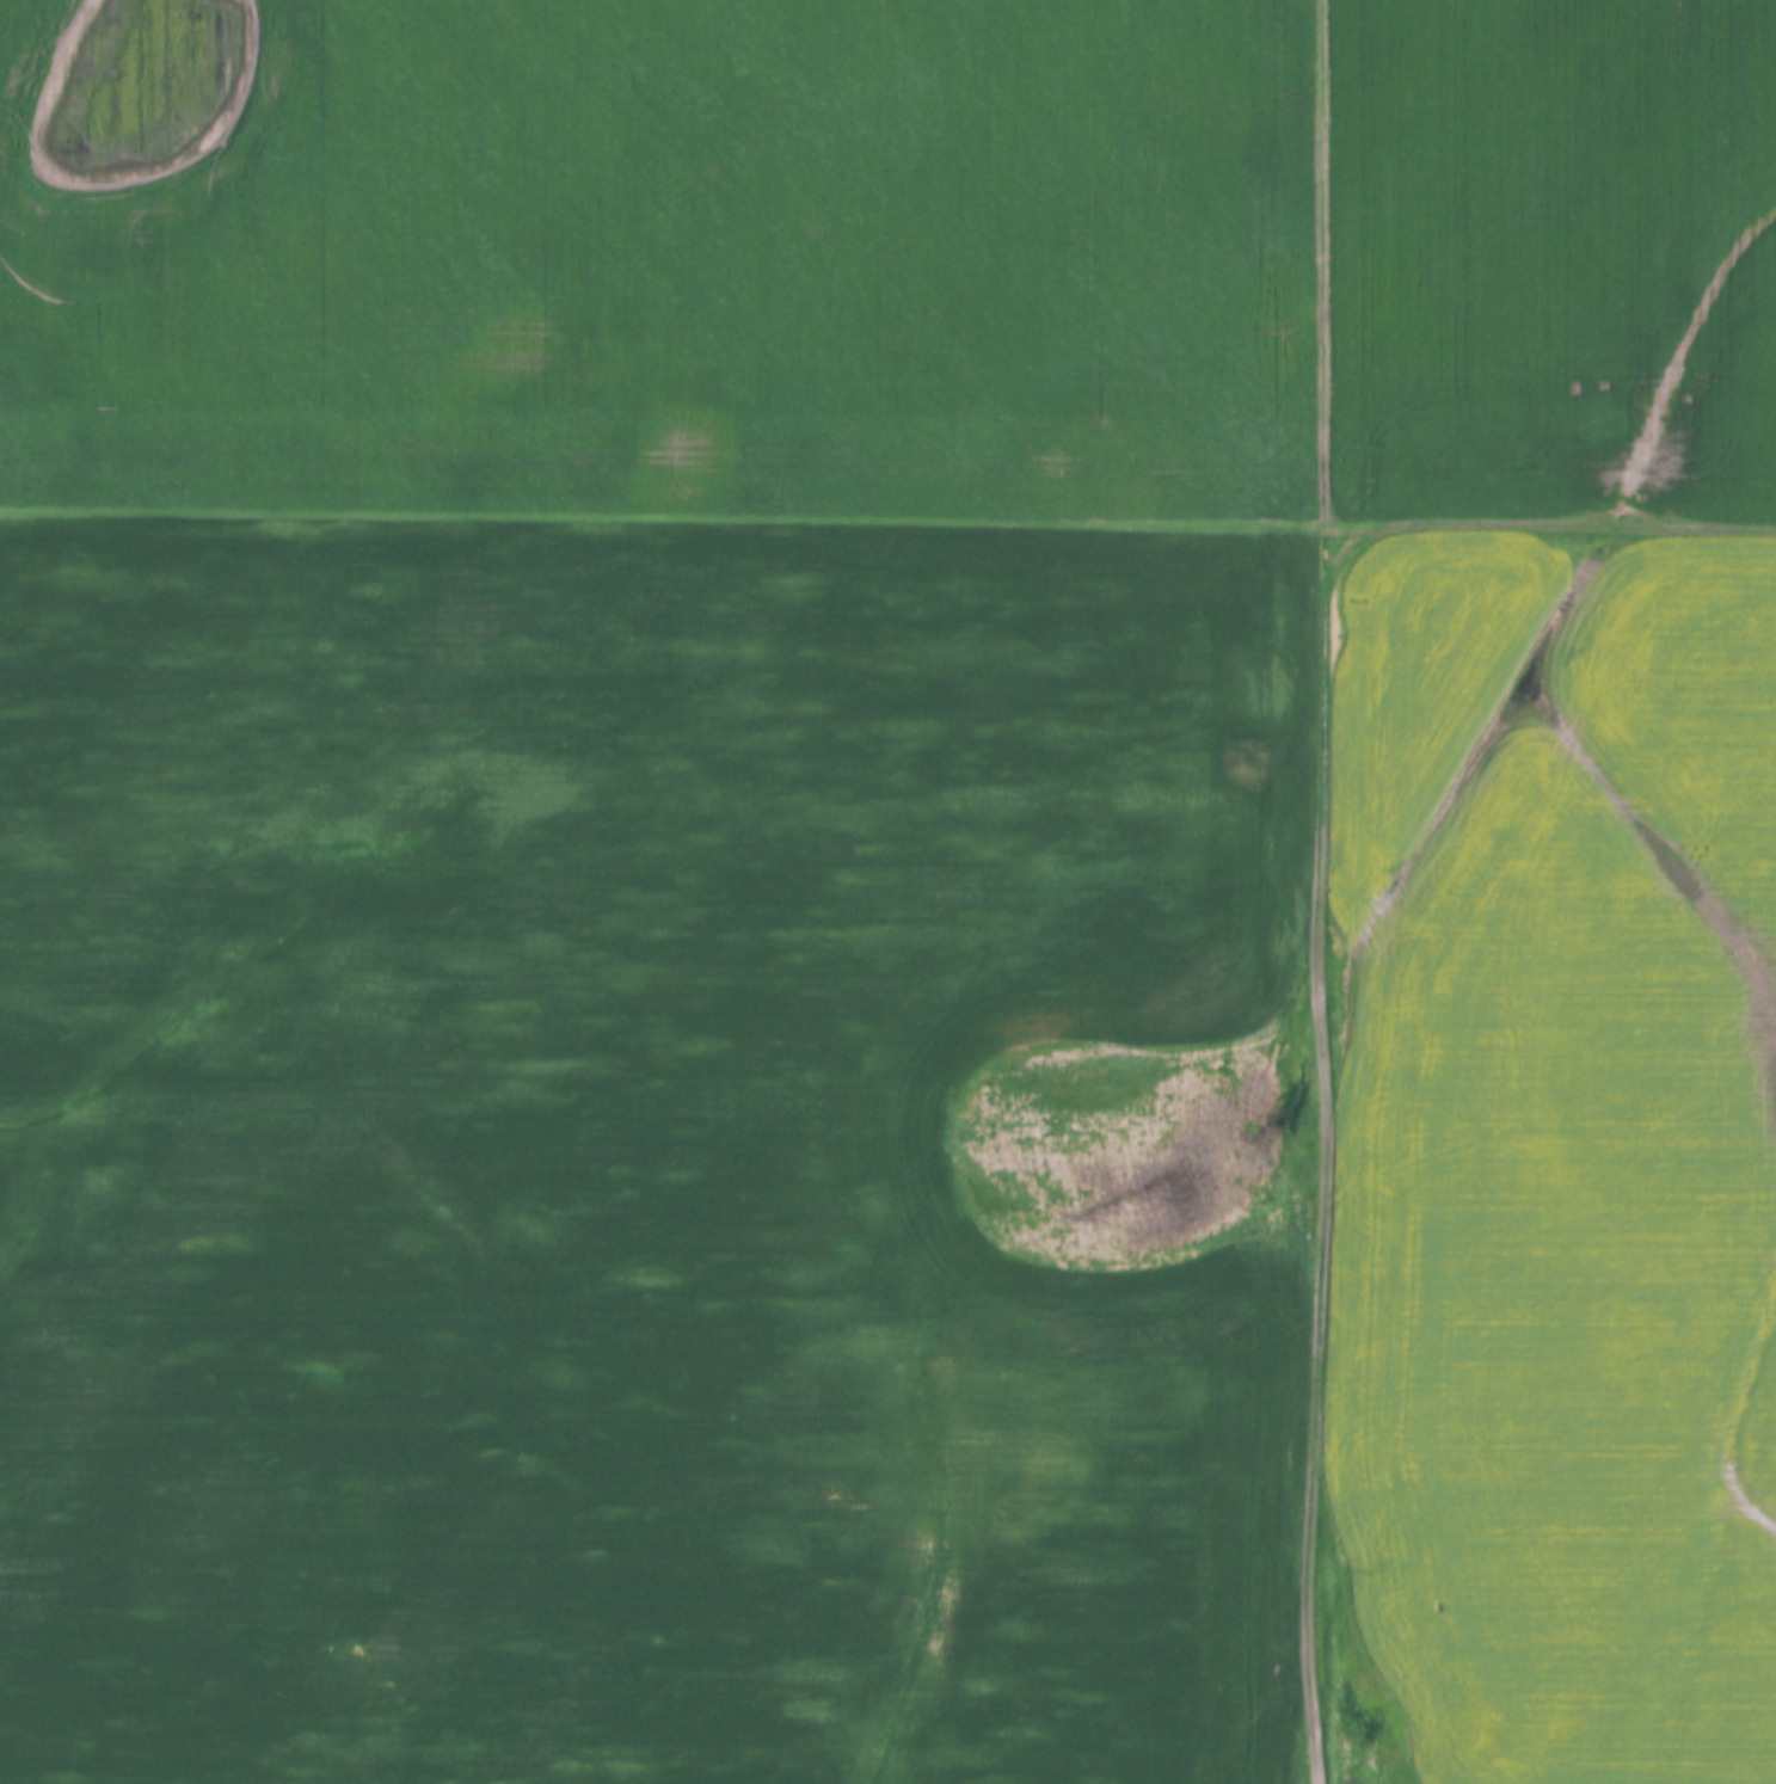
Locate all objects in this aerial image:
road: (892, 513)
road: (1326, 891)

